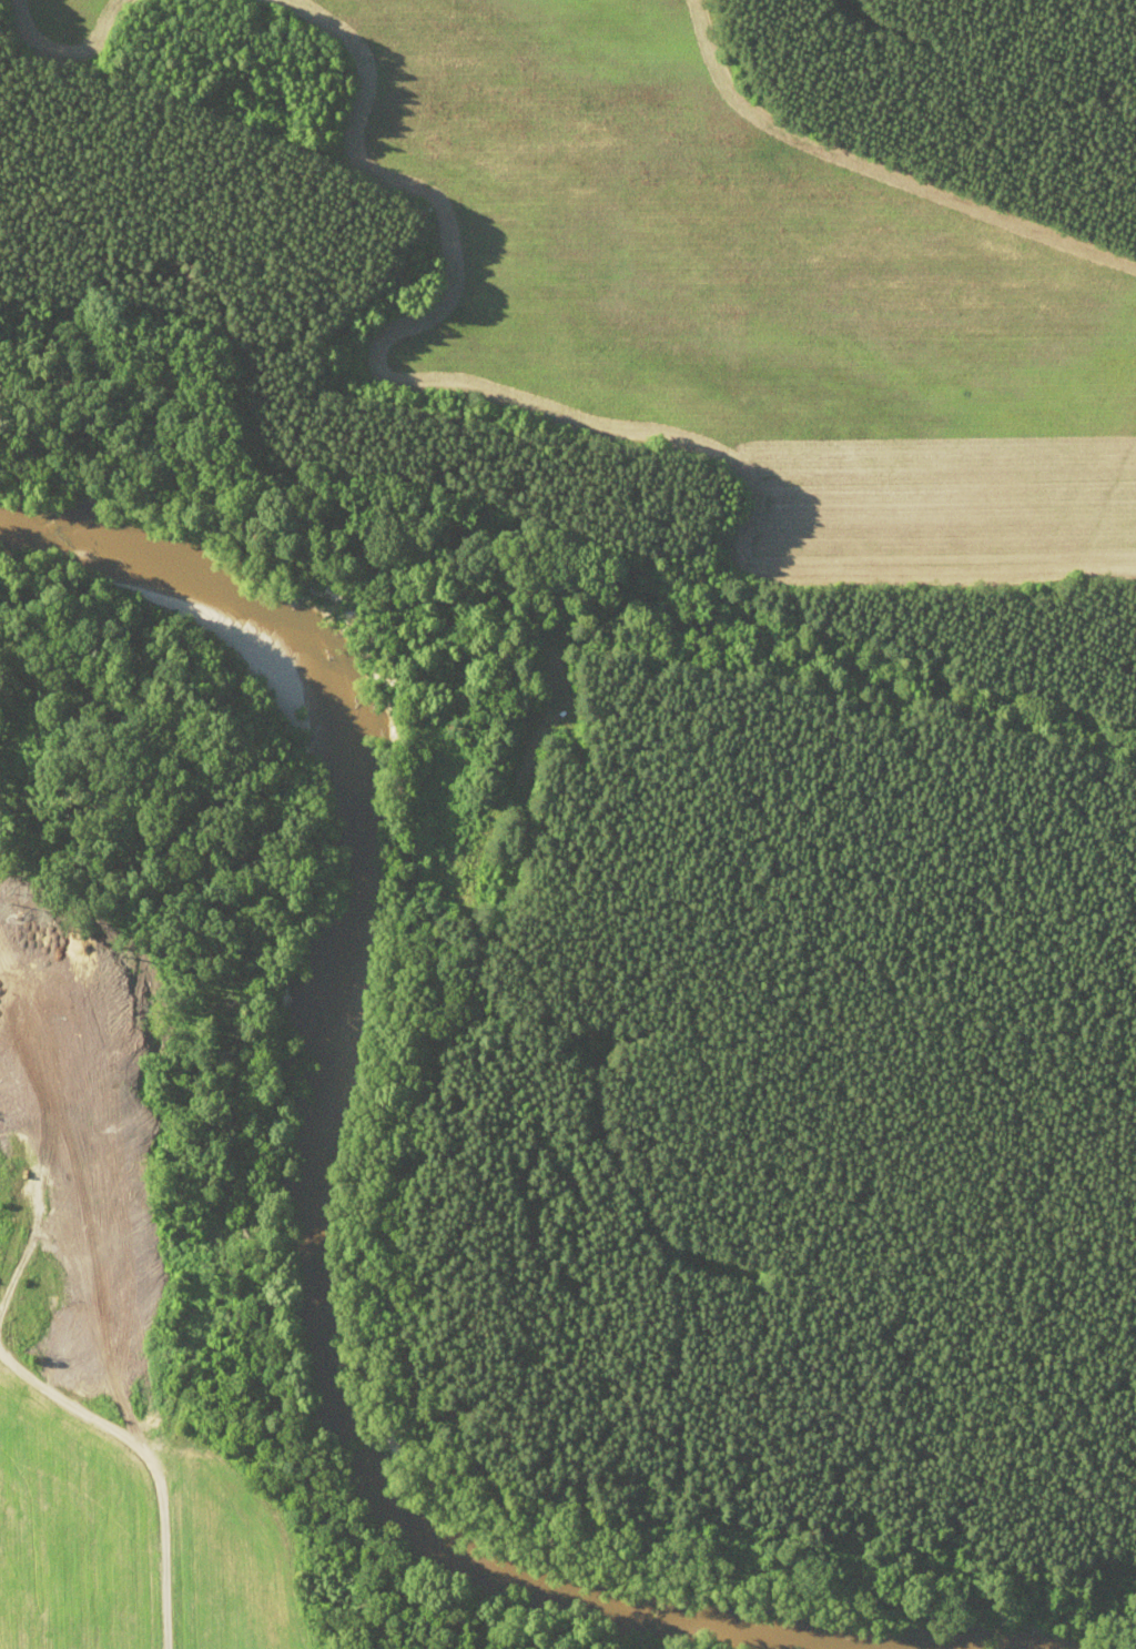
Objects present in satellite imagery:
road: (152, 1461)

